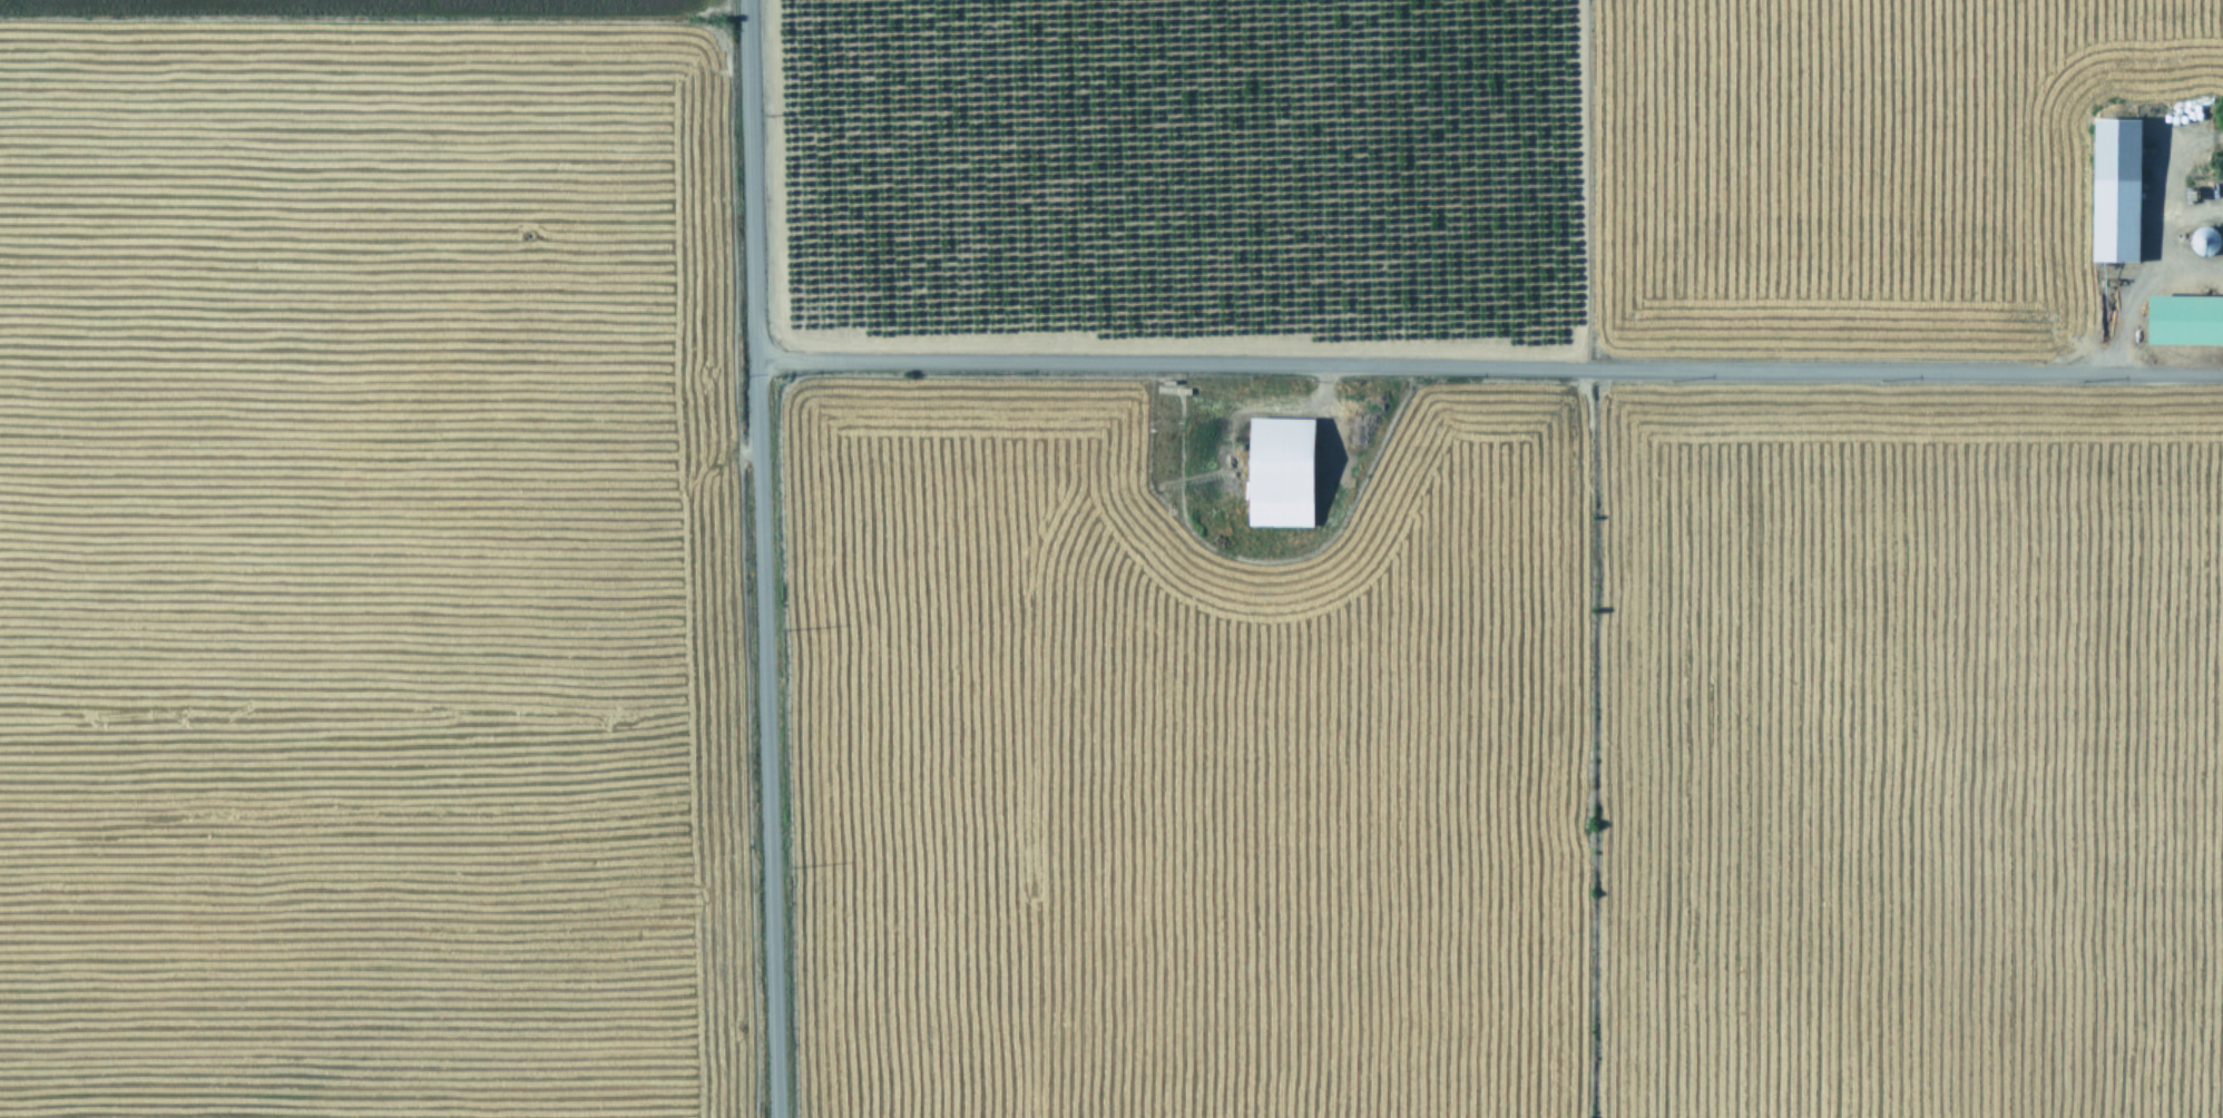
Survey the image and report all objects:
building: (2114, 187)
road: (2162, 234)
road: (2192, 263)
road: (1487, 363)
building: (1277, 470)
road: (758, 559)
crop: (1111, 559)

